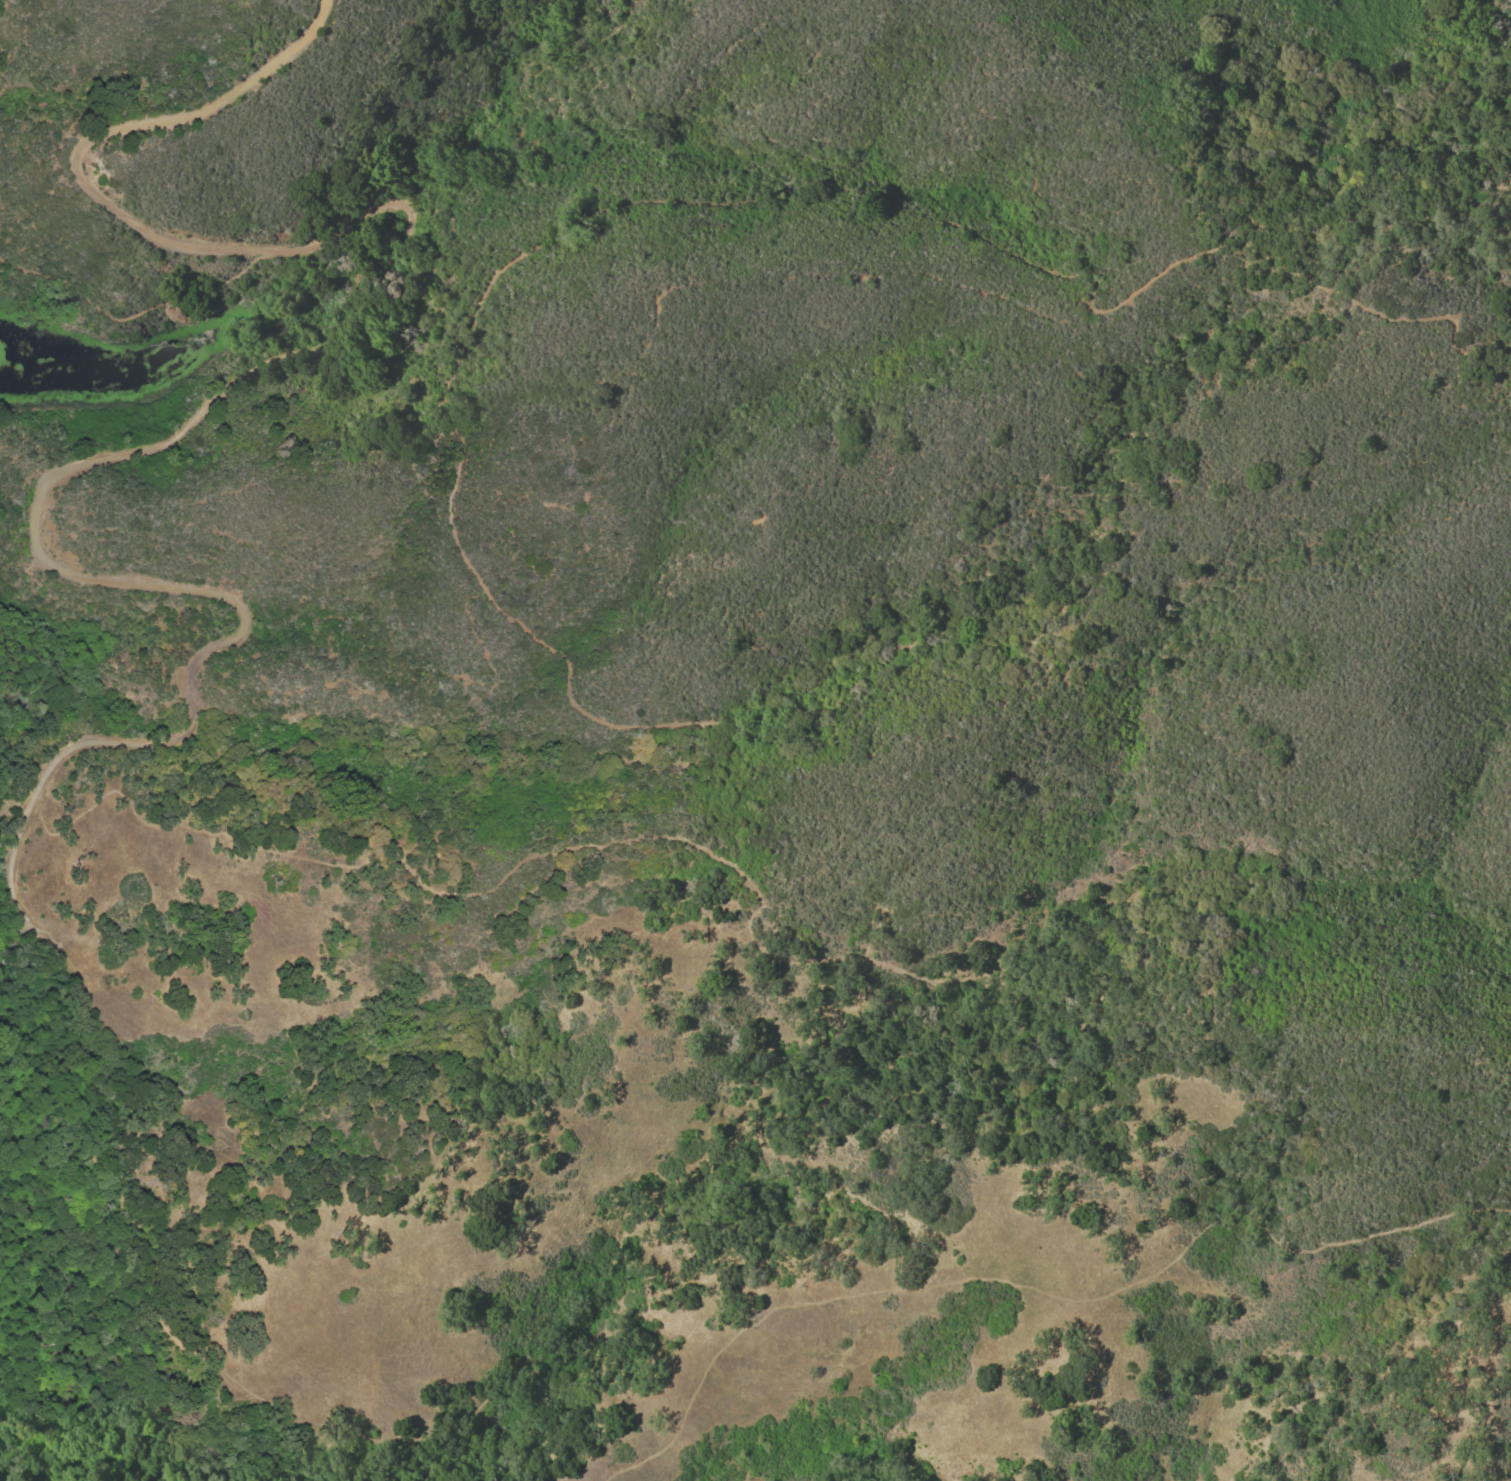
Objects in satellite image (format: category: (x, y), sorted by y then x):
road: (125, 313)
road: (439, 409)
road: (208, 415)
road: (15, 944)
road: (1042, 1292)
road: (208, 1362)

